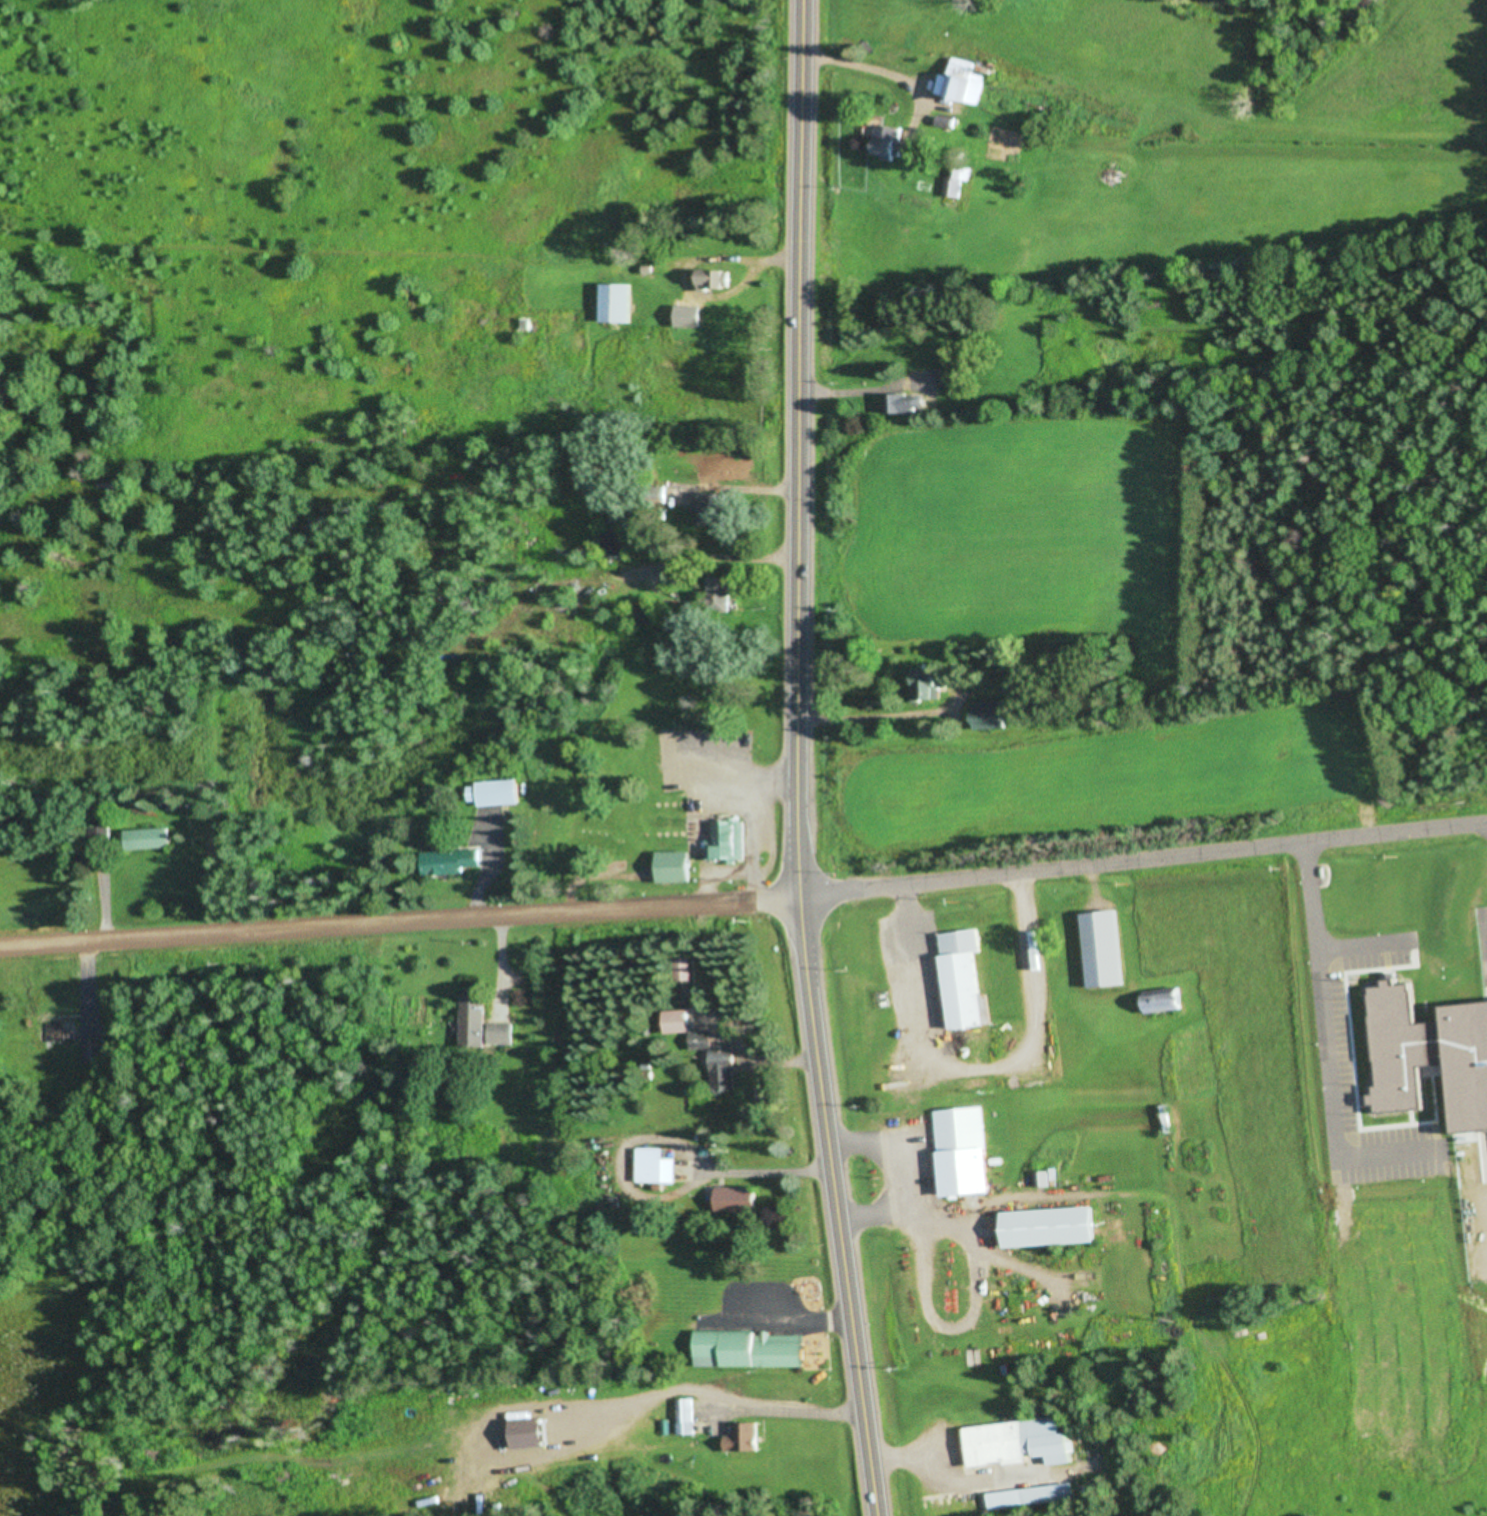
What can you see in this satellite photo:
building: (963, 82)
building: (948, 122)
building: (892, 141)
building: (957, 180)
building: (717, 279)
building: (617, 303)
building: (691, 309)
building: (533, 325)
building: (947, 378)
building: (907, 404)
building: (716, 509)
building: (620, 533)
building: (721, 595)
building: (648, 614)
building: (929, 684)
building: (995, 713)
road: (800, 760)
building: (495, 793)
building: (149, 839)
building: (726, 841)
road: (1143, 858)
building: (453, 862)
building: (676, 868)
road: (399, 921)
building: (1120, 943)
building: (682, 979)
building: (966, 980)
building: (1167, 1009)
building: (679, 1022)
building: (483, 1024)
building: (74, 1040)
building: (703, 1040)
building: (725, 1071)
building: (965, 1152)
building: (658, 1167)
building: (739, 1199)
building: (1053, 1227)
building: (750, 1351)
building: (684, 1417)
building: (743, 1439)
building: (1018, 1444)
building: (1030, 1497)

